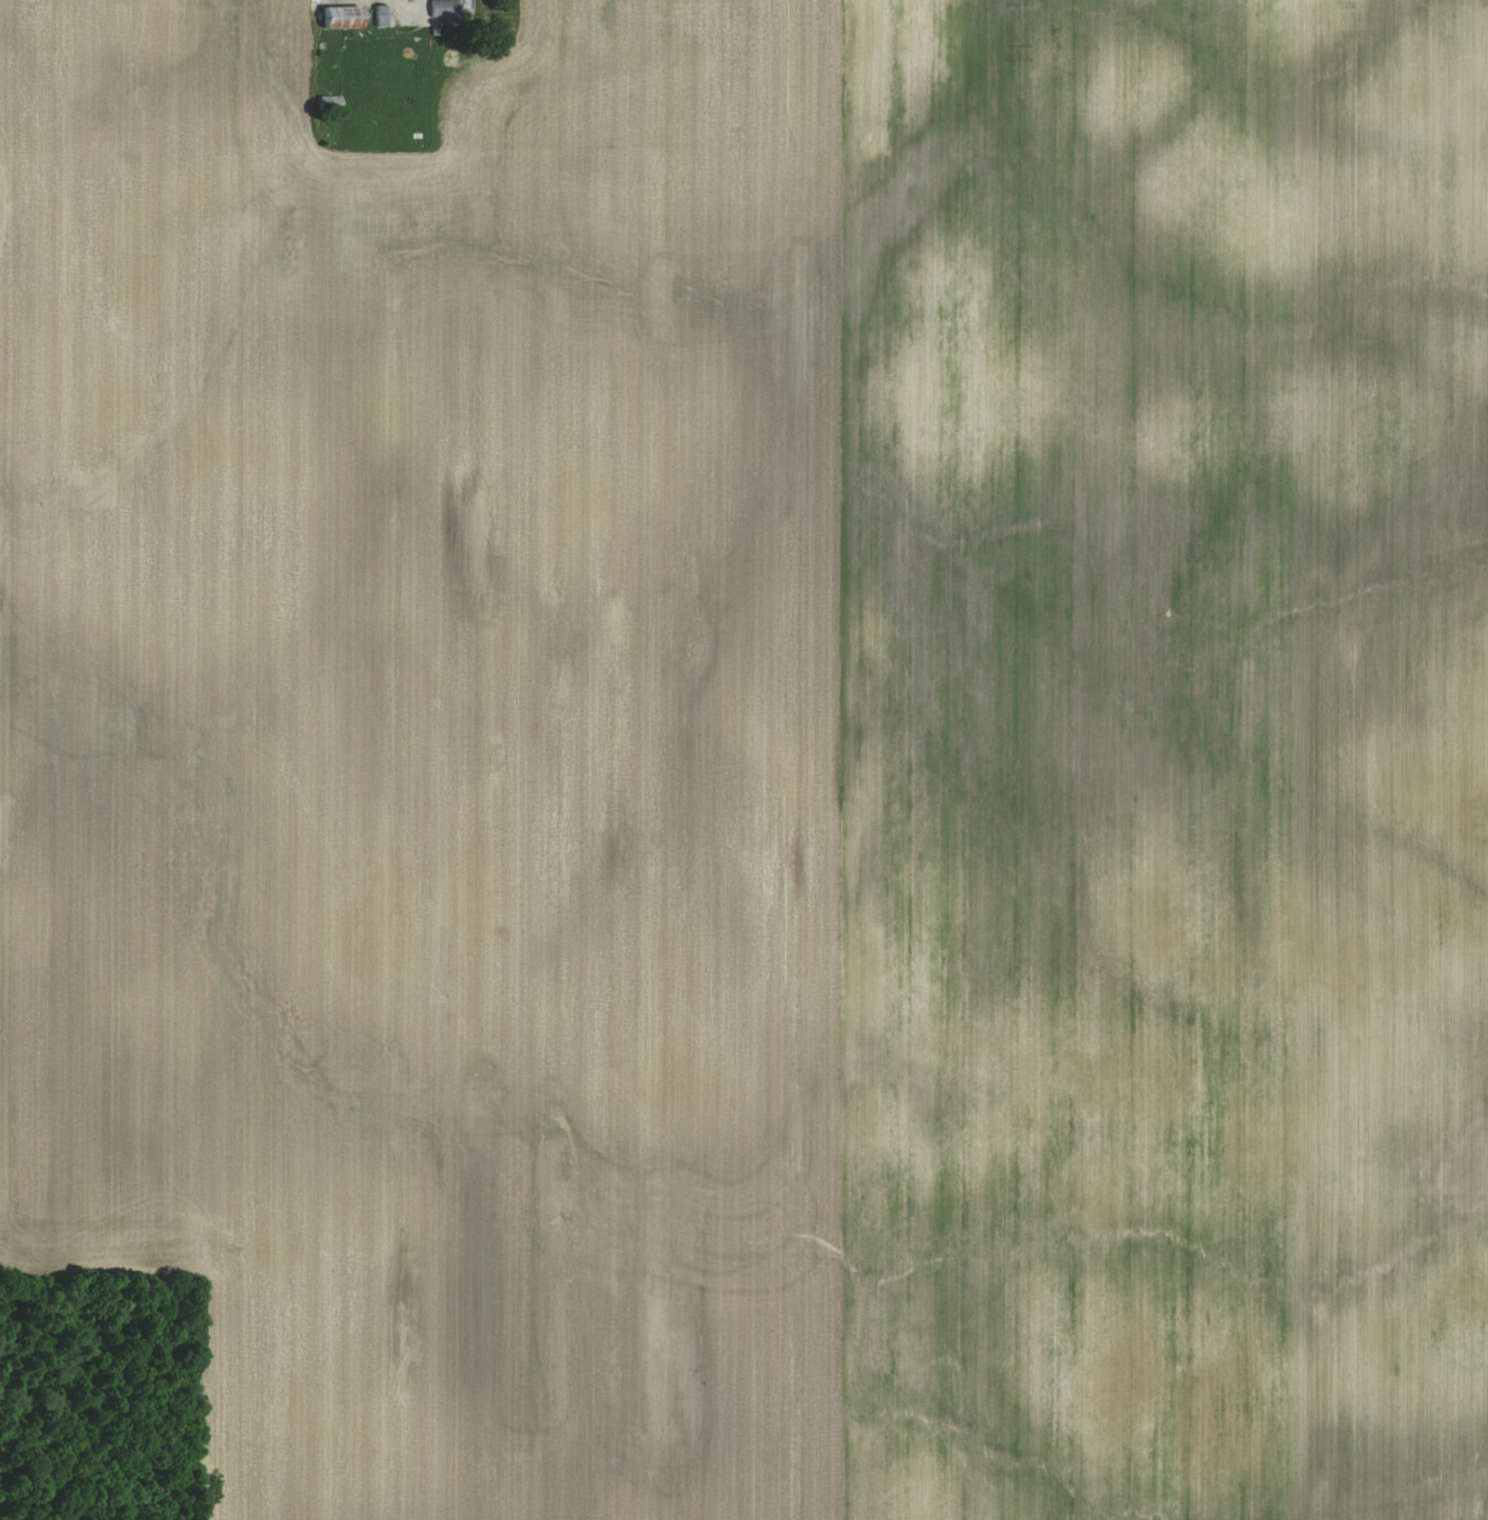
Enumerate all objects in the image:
building: (447, 8)
building: (383, 16)
building: (343, 17)
building: (330, 103)

